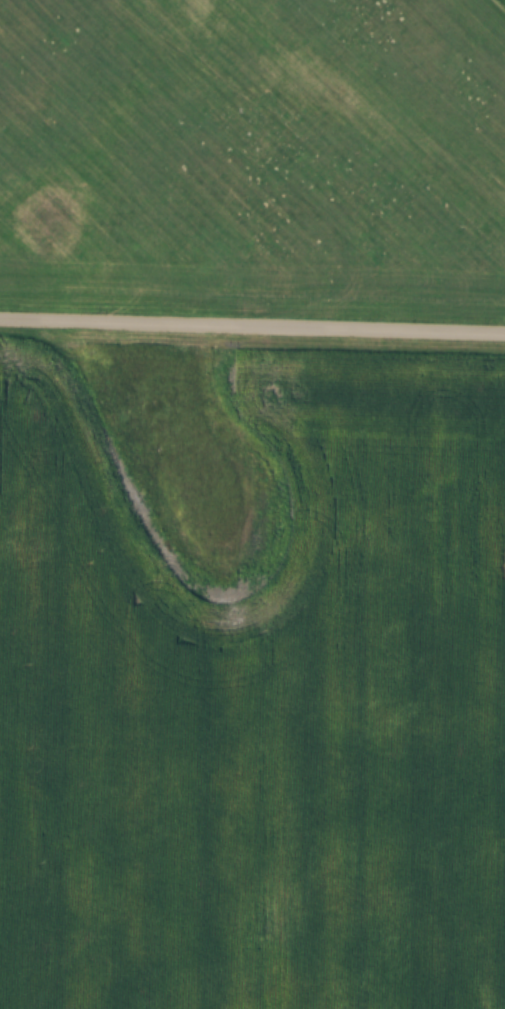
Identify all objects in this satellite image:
road: (252, 315)

